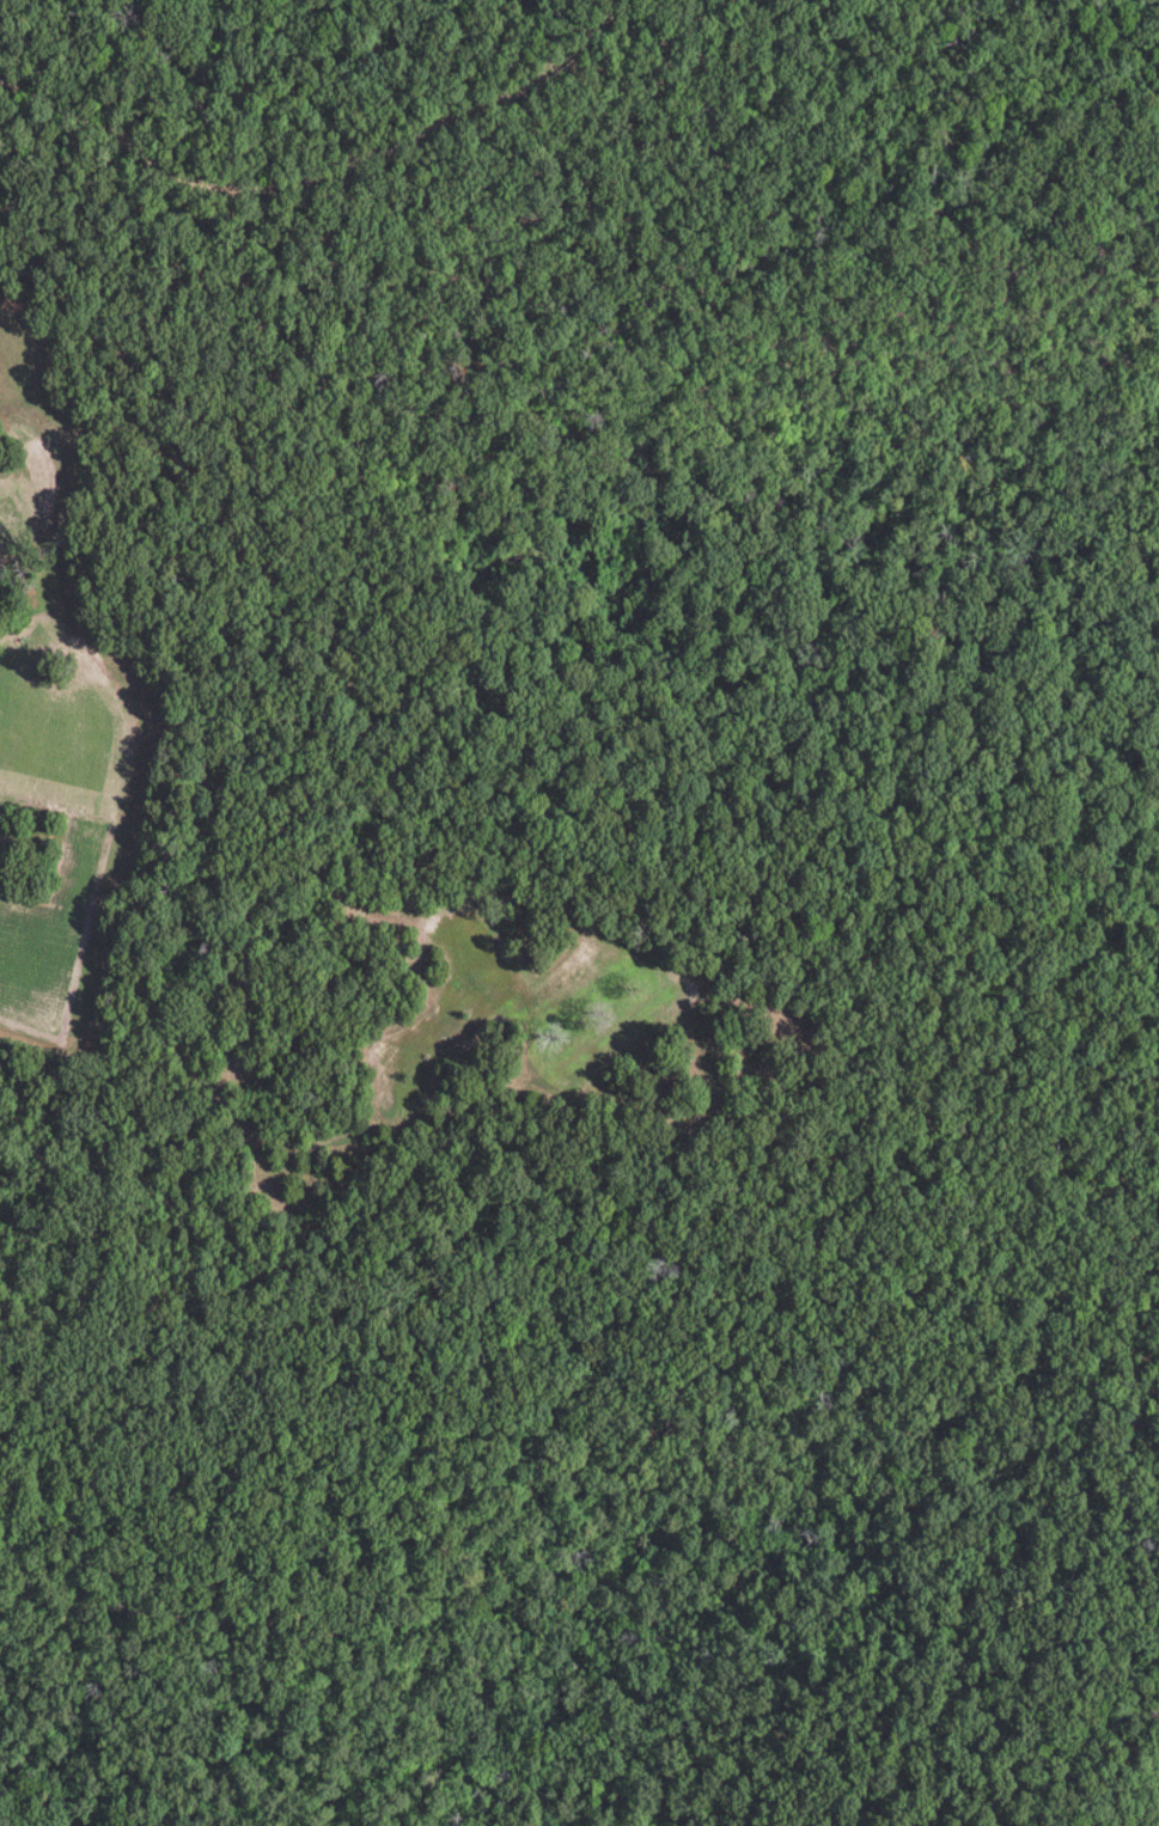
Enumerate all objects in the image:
road: (321, 173)

